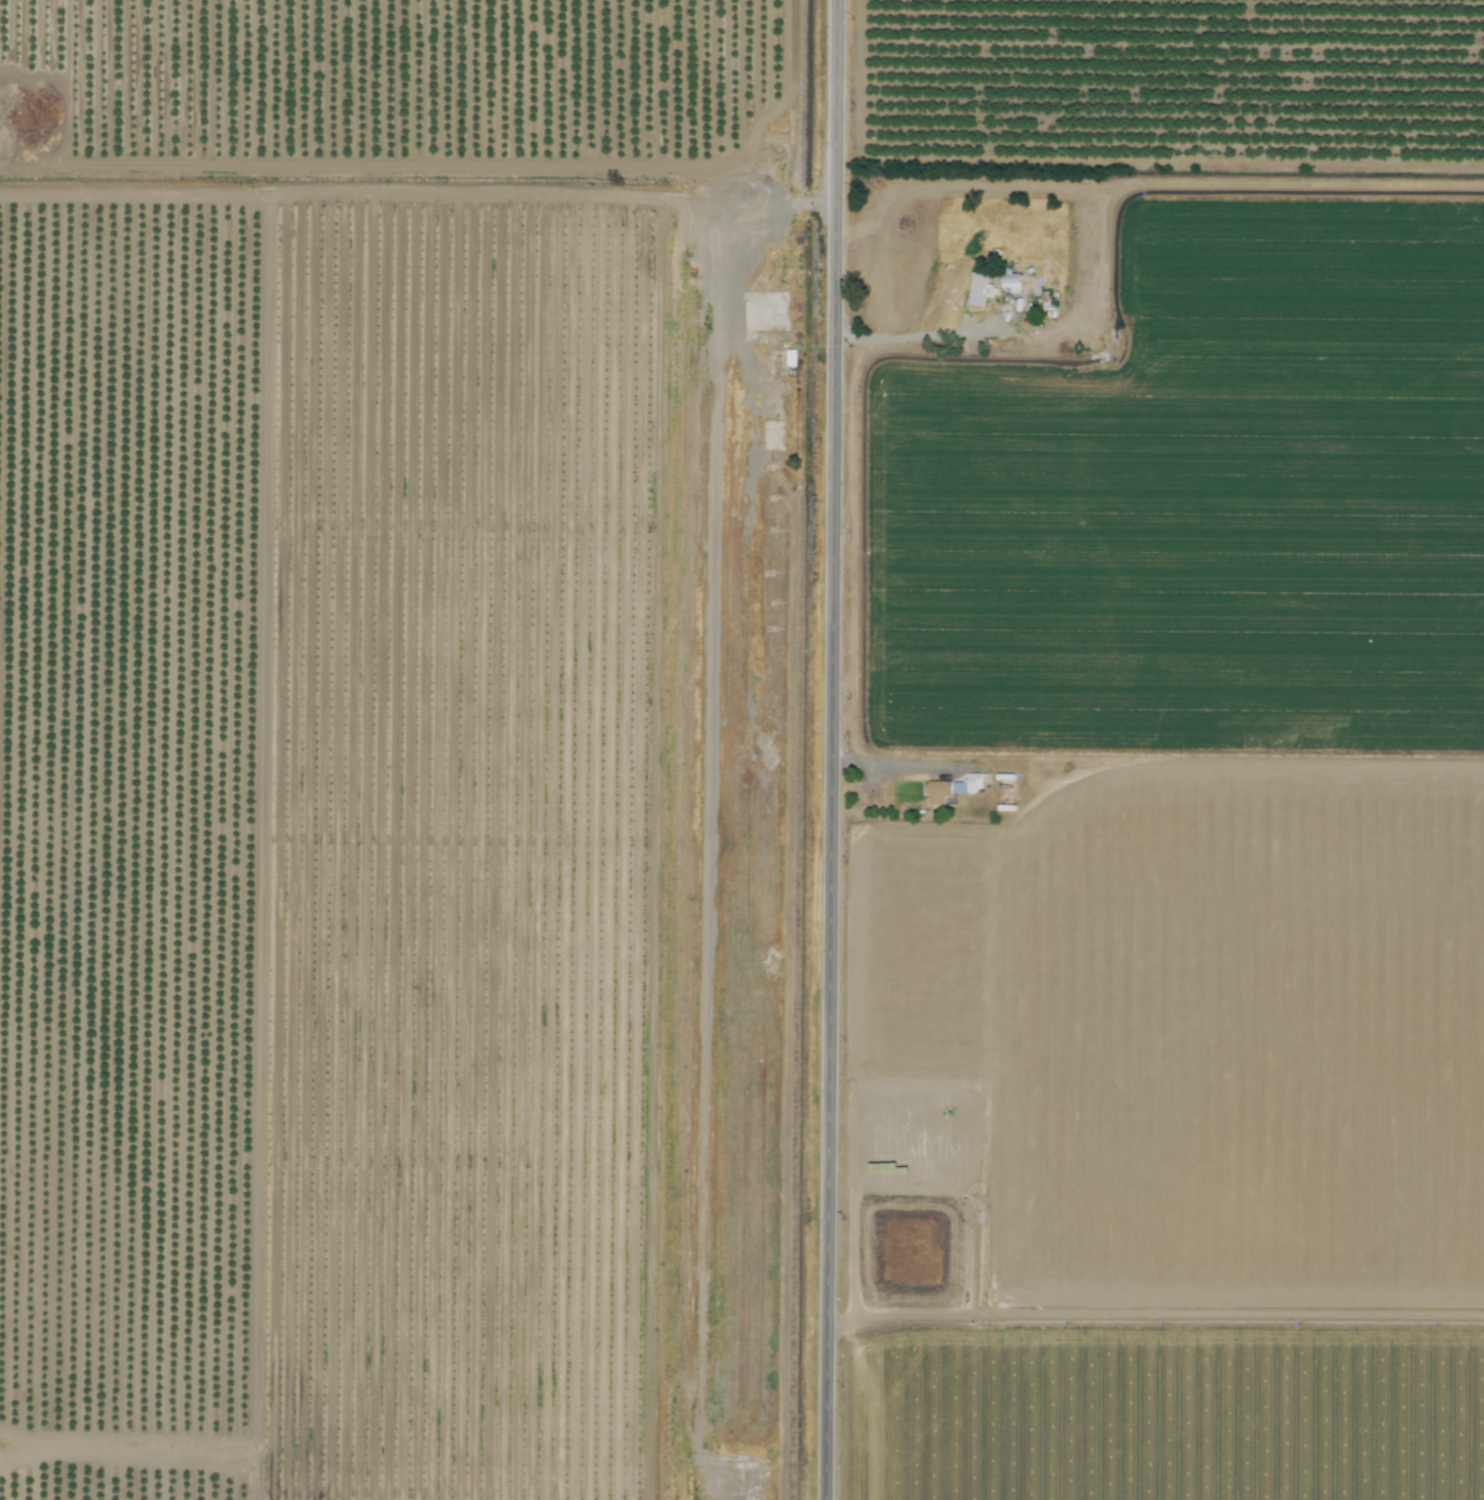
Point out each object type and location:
building: (977, 288)
road: (910, 343)
road: (830, 749)
road: (1003, 769)
building: (937, 791)
airport: (821, 793)
airport runway: (697, 842)
road: (326, 1464)

